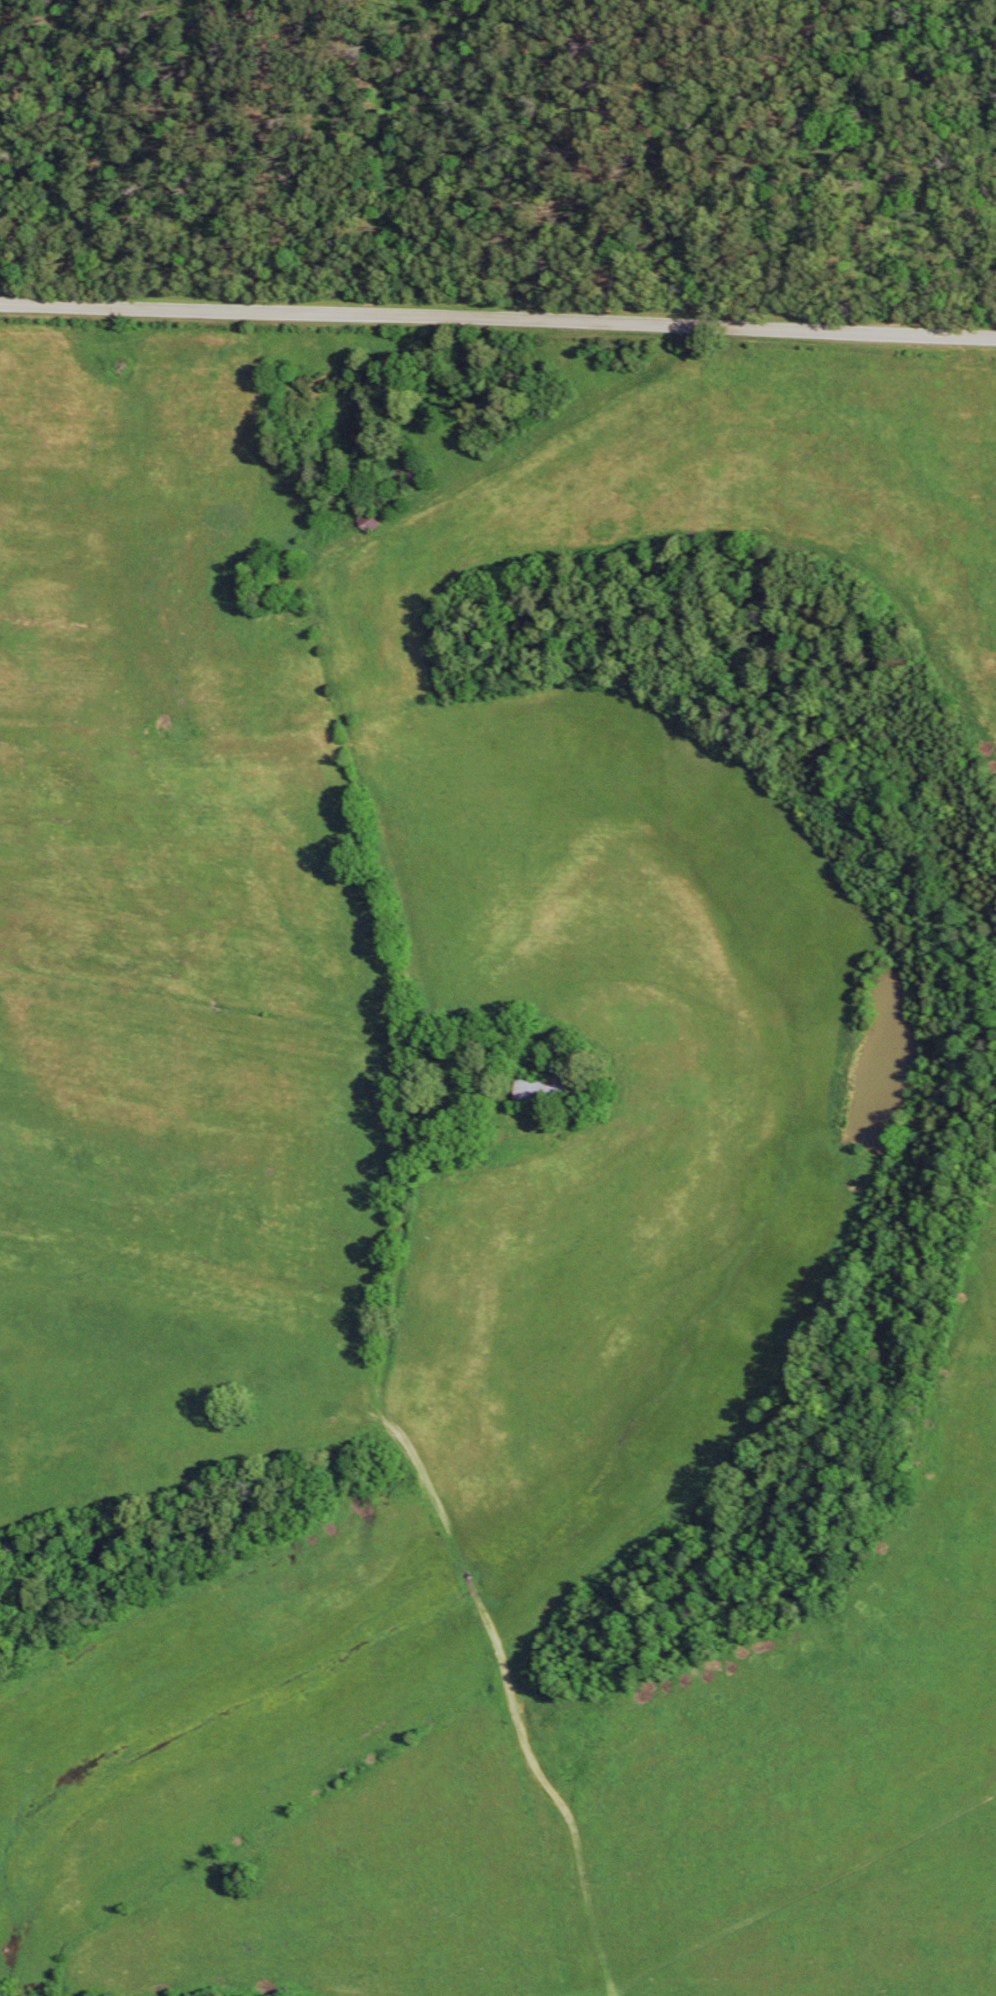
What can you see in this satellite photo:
park: (505, 158)
road: (498, 319)
building: (367, 526)
building: (541, 1096)

